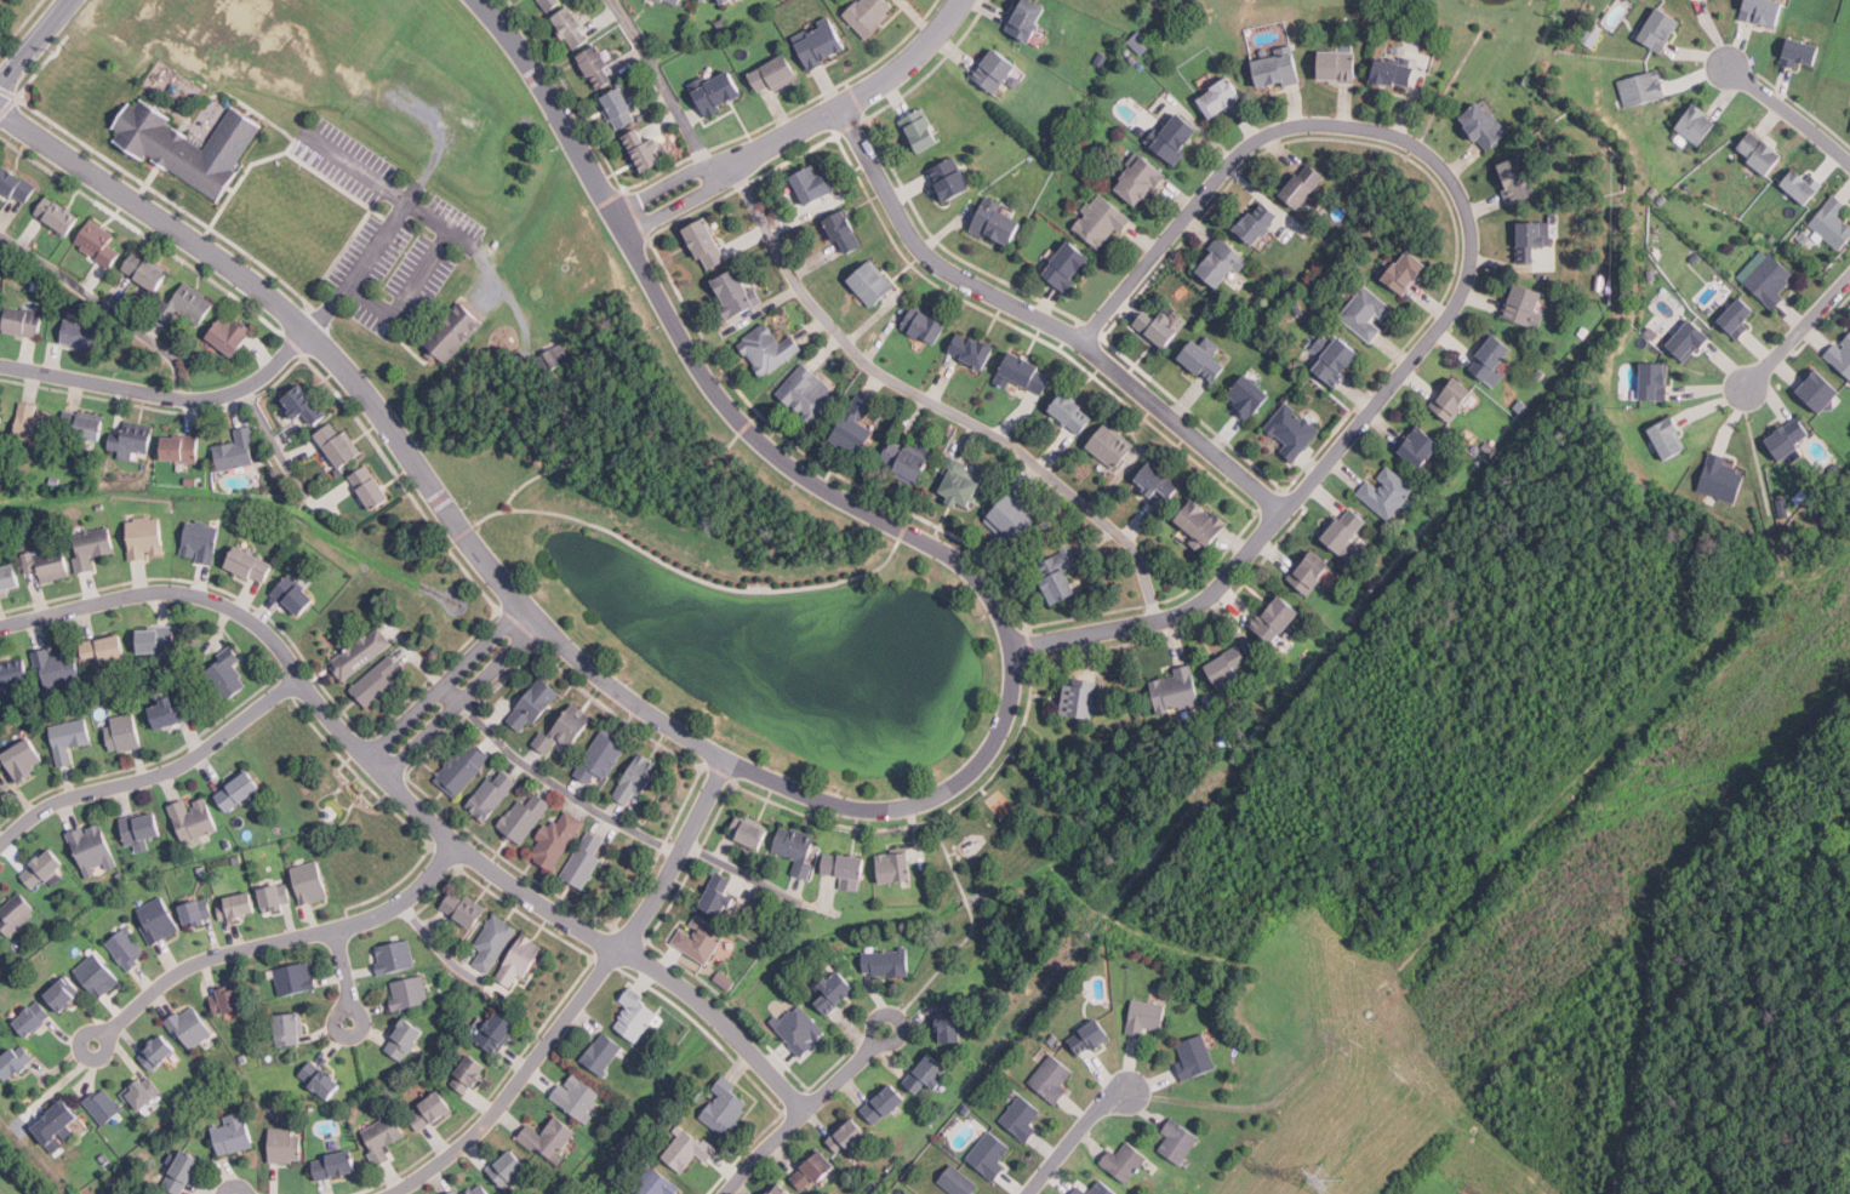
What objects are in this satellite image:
building: (706, 0)
building: (725, 1)
building: (672, 2)
building: (542, 4)
building: (552, 4)
building: (1764, 11)
building: (872, 13)
building: (1028, 17)
building: (1661, 27)
building: (572, 28)
building: (1587, 36)
building: (821, 41)
building: (1137, 42)
road: (33, 44)
building: (1800, 51)
building: (1131, 58)
building: (1098, 59)
building: (588, 65)
building: (1331, 67)
building: (600, 68)
building: (1268, 70)
building: (776, 73)
building: (988, 73)
building: (1383, 74)
road: (663, 84)
building: (1643, 86)
building: (719, 92)
building: (1222, 96)
building: (618, 108)
road: (1787, 114)
building: (1485, 124)
building: (1694, 124)
road: (800, 126)
building: (1849, 127)
building: (921, 128)
building: (1178, 136)
building: (193, 147)
building: (647, 148)
building: (1755, 152)
road: (356, 166)
building: (952, 177)
building: (1518, 178)
building: (1142, 179)
building: (815, 183)
building: (1304, 183)
building: (16, 184)
building: (1795, 184)
building: (57, 215)
building: (1102, 222)
building: (1833, 222)
building: (1255, 223)
building: (986, 225)
building: (846, 230)
building: (1534, 238)
building: (97, 242)
building: (708, 242)
road: (462, 245)
road: (364, 259)
building: (1214, 264)
building: (1062, 269)
building: (145, 270)
building: (1408, 272)
building: (1770, 279)
building: (872, 282)
building: (736, 292)
road: (1462, 295)
road: (405, 297)
building: (187, 303)
building: (1525, 303)
road: (104, 304)
building: (1366, 313)
building: (1731, 318)
road: (1045, 320)
building: (24, 321)
building: (925, 324)
building: (1163, 325)
road: (1798, 327)
building: (450, 330)
building: (230, 332)
building: (81, 333)
building: (1684, 342)
building: (770, 348)
building: (972, 349)
building: (1842, 354)
building: (549, 358)
building: (1494, 359)
building: (1338, 360)
building: (1194, 362)
building: (1023, 372)
building: (1655, 379)
road: (165, 393)
building: (807, 393)
building: (1815, 393)
building: (1249, 395)
building: (1452, 399)
road: (933, 402)
building: (306, 404)
building: (1073, 411)
building: (1, 417)
building: (33, 424)
building: (82, 425)
building: (856, 425)
building: (1292, 430)
building: (1669, 438)
building: (133, 439)
building: (1789, 439)
building: (339, 442)
building: (1112, 445)
building: (1421, 446)
building: (181, 447)
building: (238, 450)
building: (907, 459)
road: (619, 462)
building: (1720, 478)
building: (1157, 479)
building: (56, 480)
building: (960, 481)
building: (371, 486)
building: (1387, 491)
road: (508, 503)
building: (1011, 519)
building: (1204, 520)
building: (1347, 529)
building: (147, 537)
building: (200, 541)
building: (92, 545)
building: (53, 564)
building: (251, 564)
road: (683, 570)
building: (1311, 571)
building: (1058, 575)
building: (10, 576)
building: (295, 594)
park: (746, 598)
building: (1278, 617)
building: (156, 640)
building: (104, 650)
building: (361, 652)
building: (1229, 664)
building: (57, 667)
building: (13, 674)
building: (227, 674)
road: (442, 679)
building: (377, 680)
building: (1176, 690)
building: (1081, 697)
road: (459, 698)
building: (533, 704)
building: (171, 713)
building: (565, 729)
building: (122, 732)
building: (69, 738)
building: (600, 758)
building: (24, 759)
building: (463, 767)
road: (158, 775)
road: (548, 779)
building: (638, 779)
building: (239, 789)
building: (491, 793)
road: (410, 801)
road: (855, 807)
building: (525, 816)
building: (194, 818)
building: (142, 830)
building: (749, 832)
building: (556, 839)
building: (92, 847)
building: (798, 849)
building: (584, 858)
building: (895, 867)
building: (42, 868)
building: (846, 869)
road: (740, 870)
building: (310, 881)
building: (719, 895)
building: (275, 897)
building: (238, 906)
building: (464, 907)
building: (16, 912)
building: (198, 912)
building: (156, 919)
building: (700, 938)
building: (493, 941)
road: (280, 944)
building: (127, 948)
building: (394, 956)
building: (520, 961)
building: (886, 962)
building: (97, 975)
building: (296, 978)
road: (344, 978)
building: (719, 978)
building: (835, 990)
building: (409, 992)
building: (63, 993)
road: (579, 996)
building: (228, 999)
building: (1144, 1016)
building: (632, 1017)
building: (33, 1018)
building: (950, 1022)
building: (190, 1027)
building: (290, 1028)
building: (799, 1028)
building: (496, 1030)
building: (1090, 1038)
building: (405, 1039)
building: (158, 1051)
building: (603, 1053)
building: (1194, 1055)
building: (15, 1061)
road: (844, 1069)
building: (469, 1073)
building: (930, 1073)
building: (1052, 1078)
building: (321, 1079)
building: (142, 1091)
building: (577, 1095)
building: (103, 1104)
building: (884, 1104)
building: (725, 1107)
building: (432, 1112)
building: (59, 1116)
building: (1022, 1118)
building: (233, 1132)
building: (383, 1137)
road: (1073, 1137)
building: (549, 1138)
building: (851, 1138)
building: (1178, 1139)
building: (286, 1144)
building: (687, 1148)
road: (763, 1153)
building: (989, 1155)
building: (1125, 1161)
building: (336, 1164)
building: (508, 1167)
building: (184, 1171)
building: (813, 1171)
building: (959, 1181)
power tower: (1323, 1182)
building: (657, 1183)
building: (480, 1189)
building: (773, 1189)
building: (783, 1189)
building: (1097, 1189)
park: (1, 1192)
building: (449, 1192)
building: (455, 1192)

